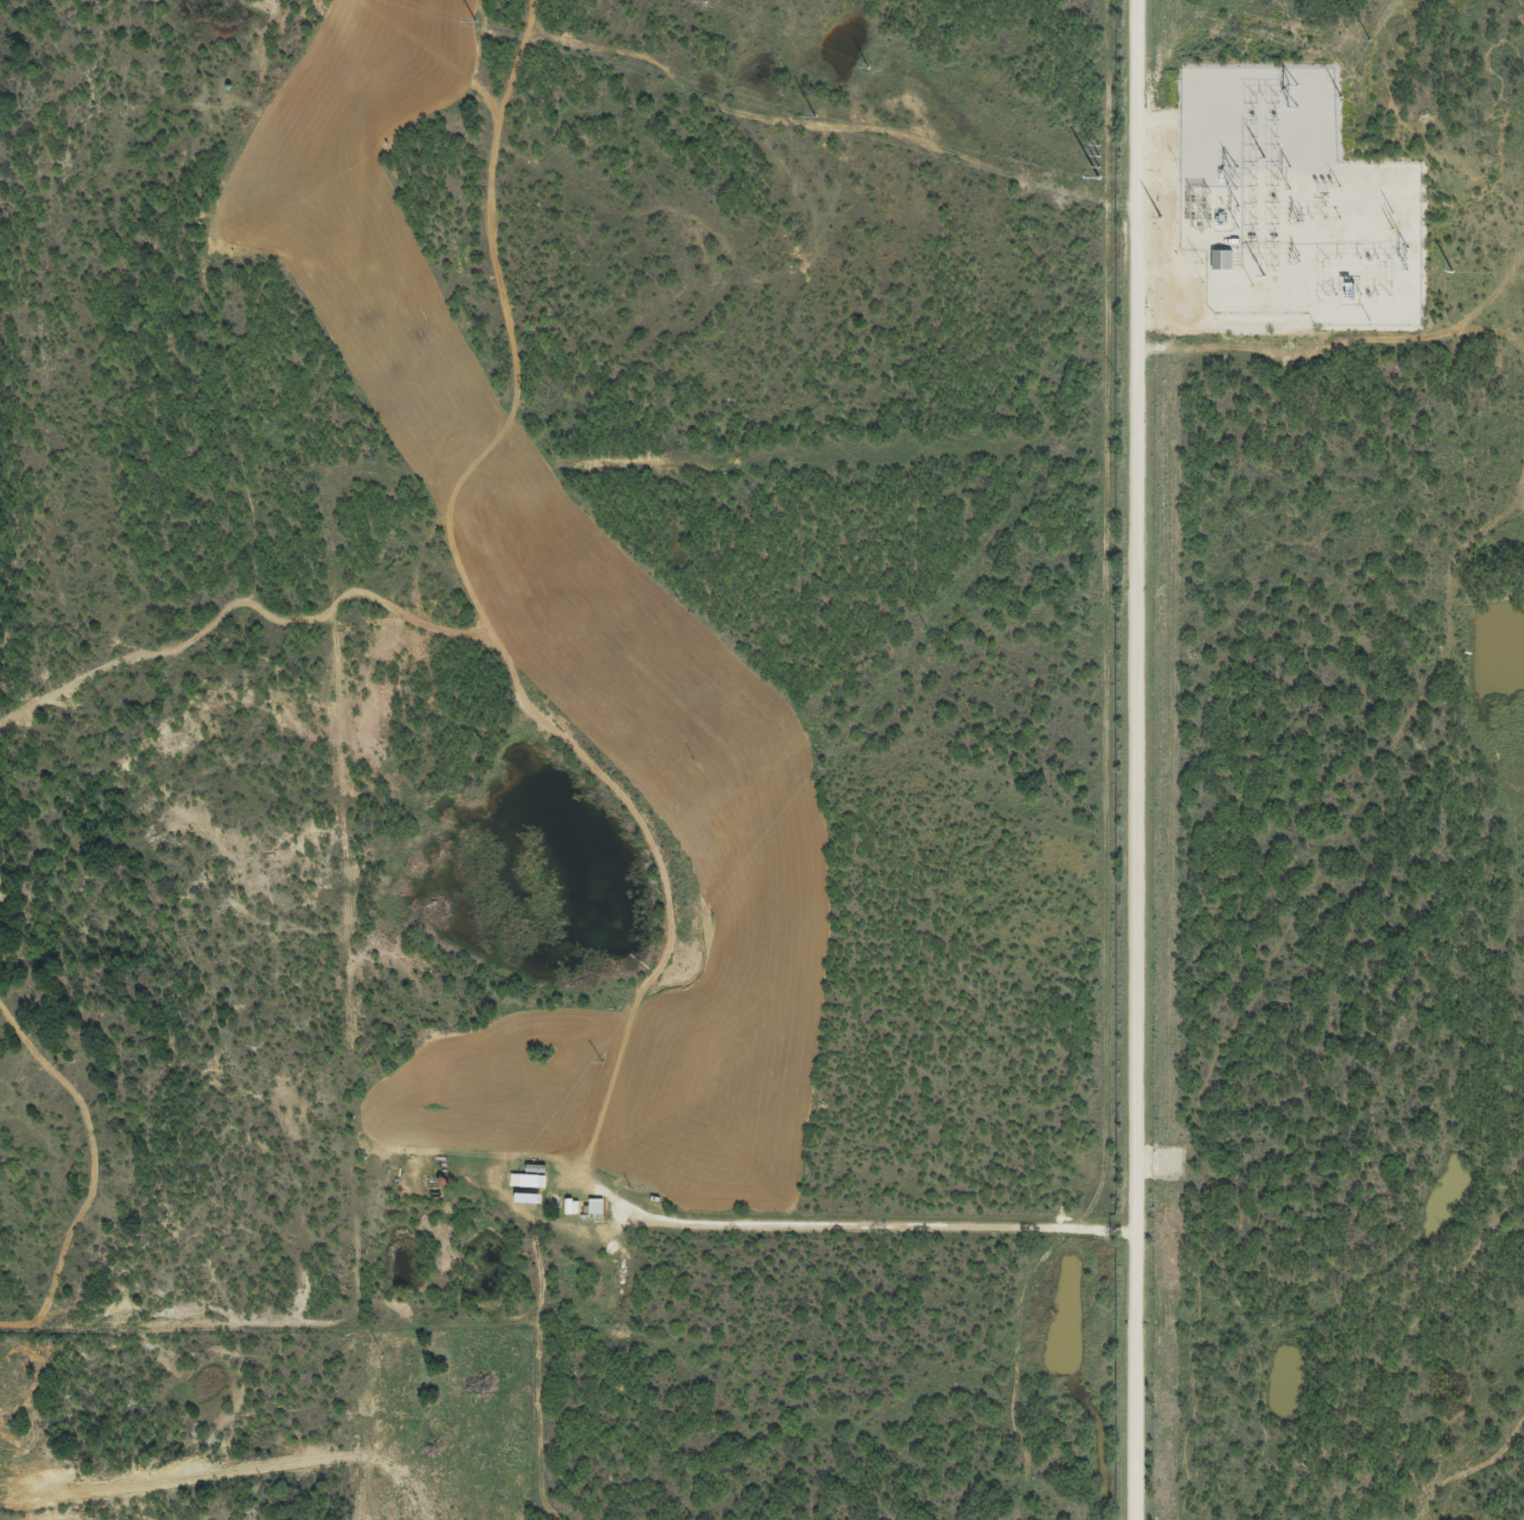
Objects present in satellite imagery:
power substation: (1293, 204)
power tower: (1300, 219)
power tower: (1391, 222)
power tower: (1298, 258)
building: (1224, 267)
road: (1131, 760)
road: (975, 781)
building: (527, 1185)
building: (524, 1206)
building: (594, 1214)
road: (845, 1224)

